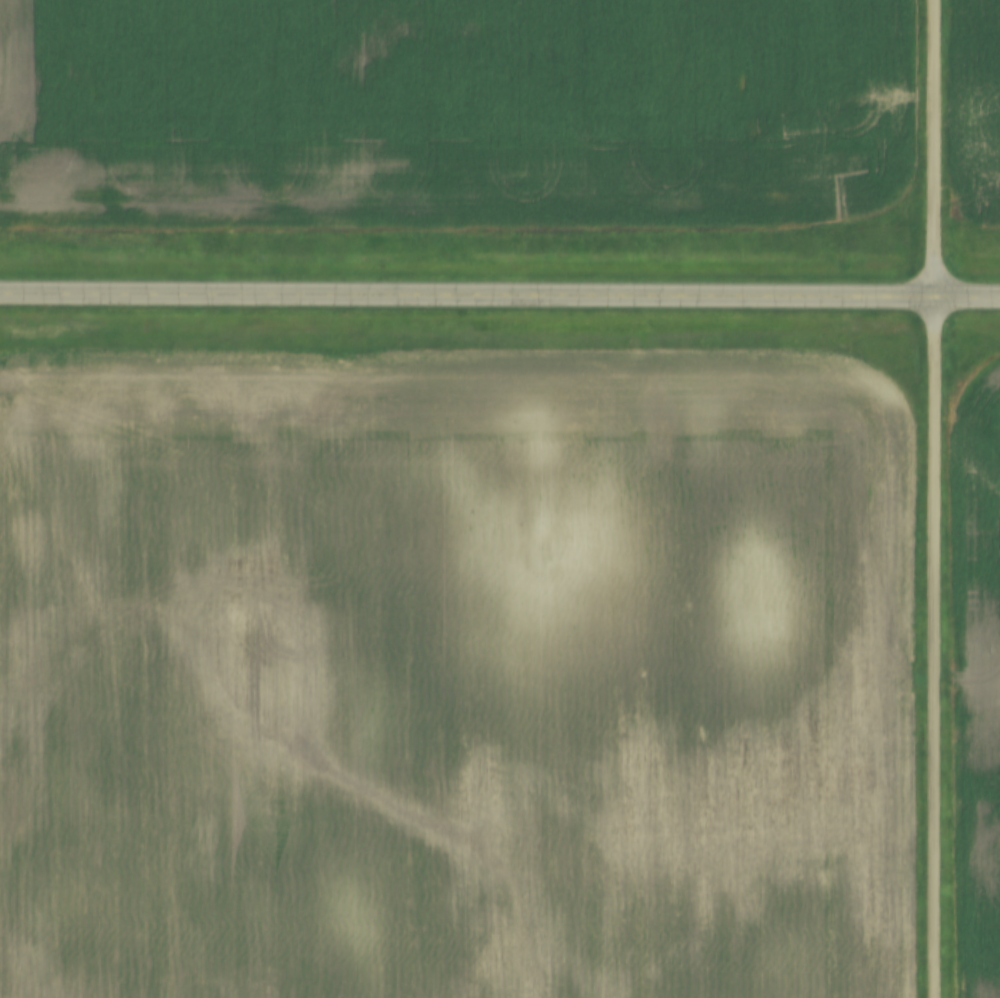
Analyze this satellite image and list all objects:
road: (935, 148)
road: (500, 295)
road: (932, 647)

